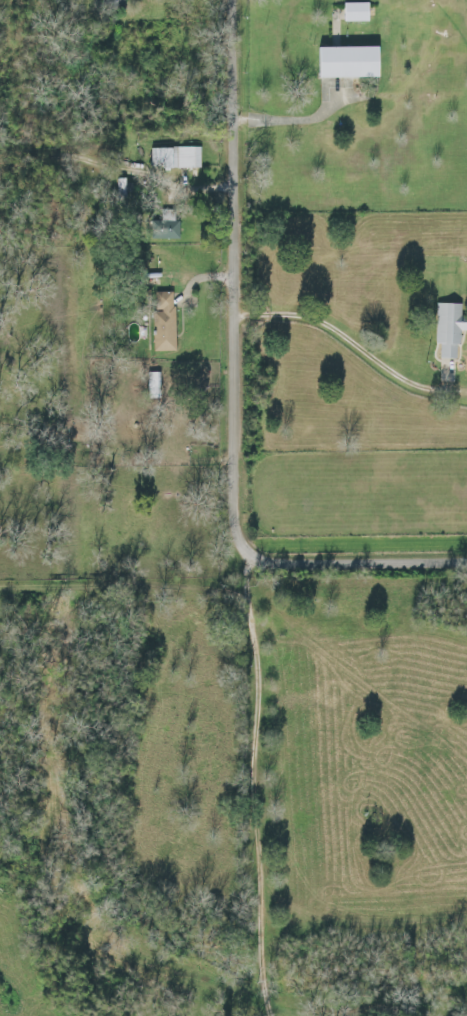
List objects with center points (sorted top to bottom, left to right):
building: (106, 0)
building: (358, 12)
building: (351, 62)
road: (299, 119)
building: (176, 157)
road: (118, 168)
building: (174, 229)
building: (167, 324)
building: (451, 327)
road: (349, 337)
road: (237, 387)
road: (249, 784)

